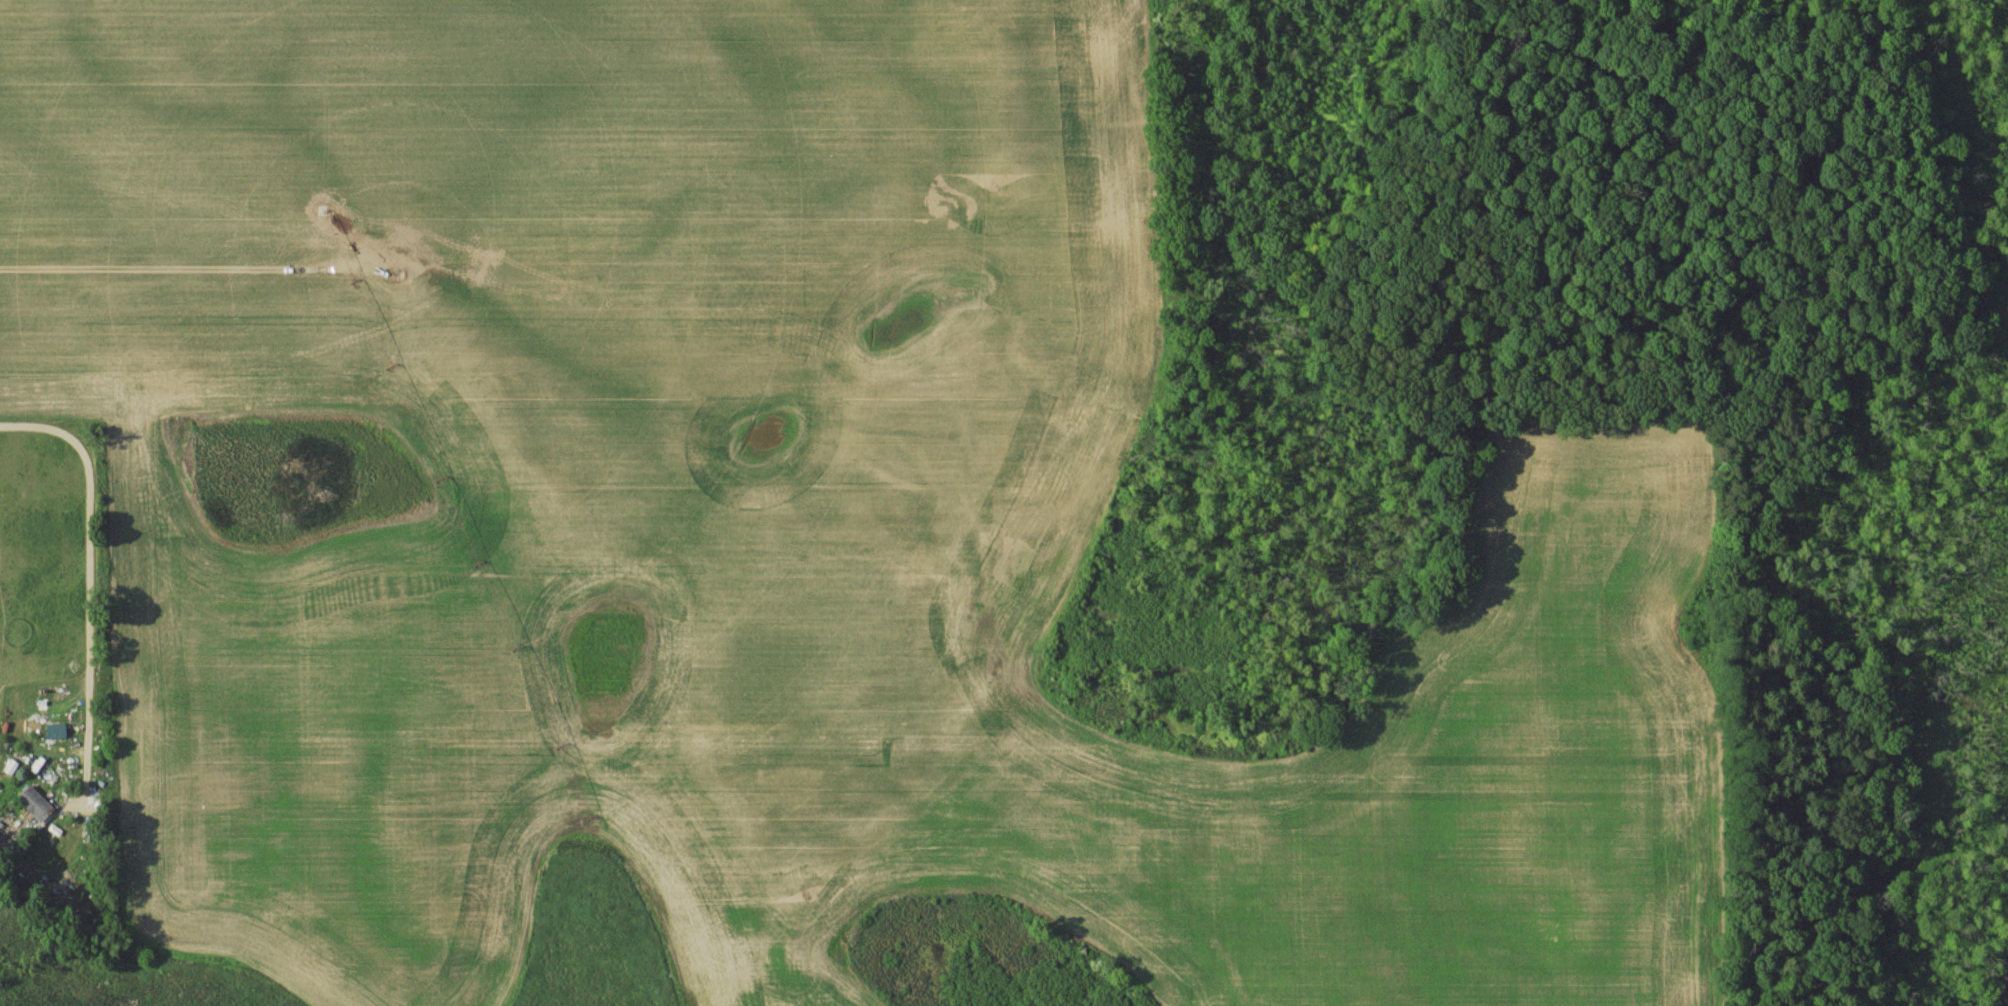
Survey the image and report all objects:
road: (88, 534)
building: (36, 804)

